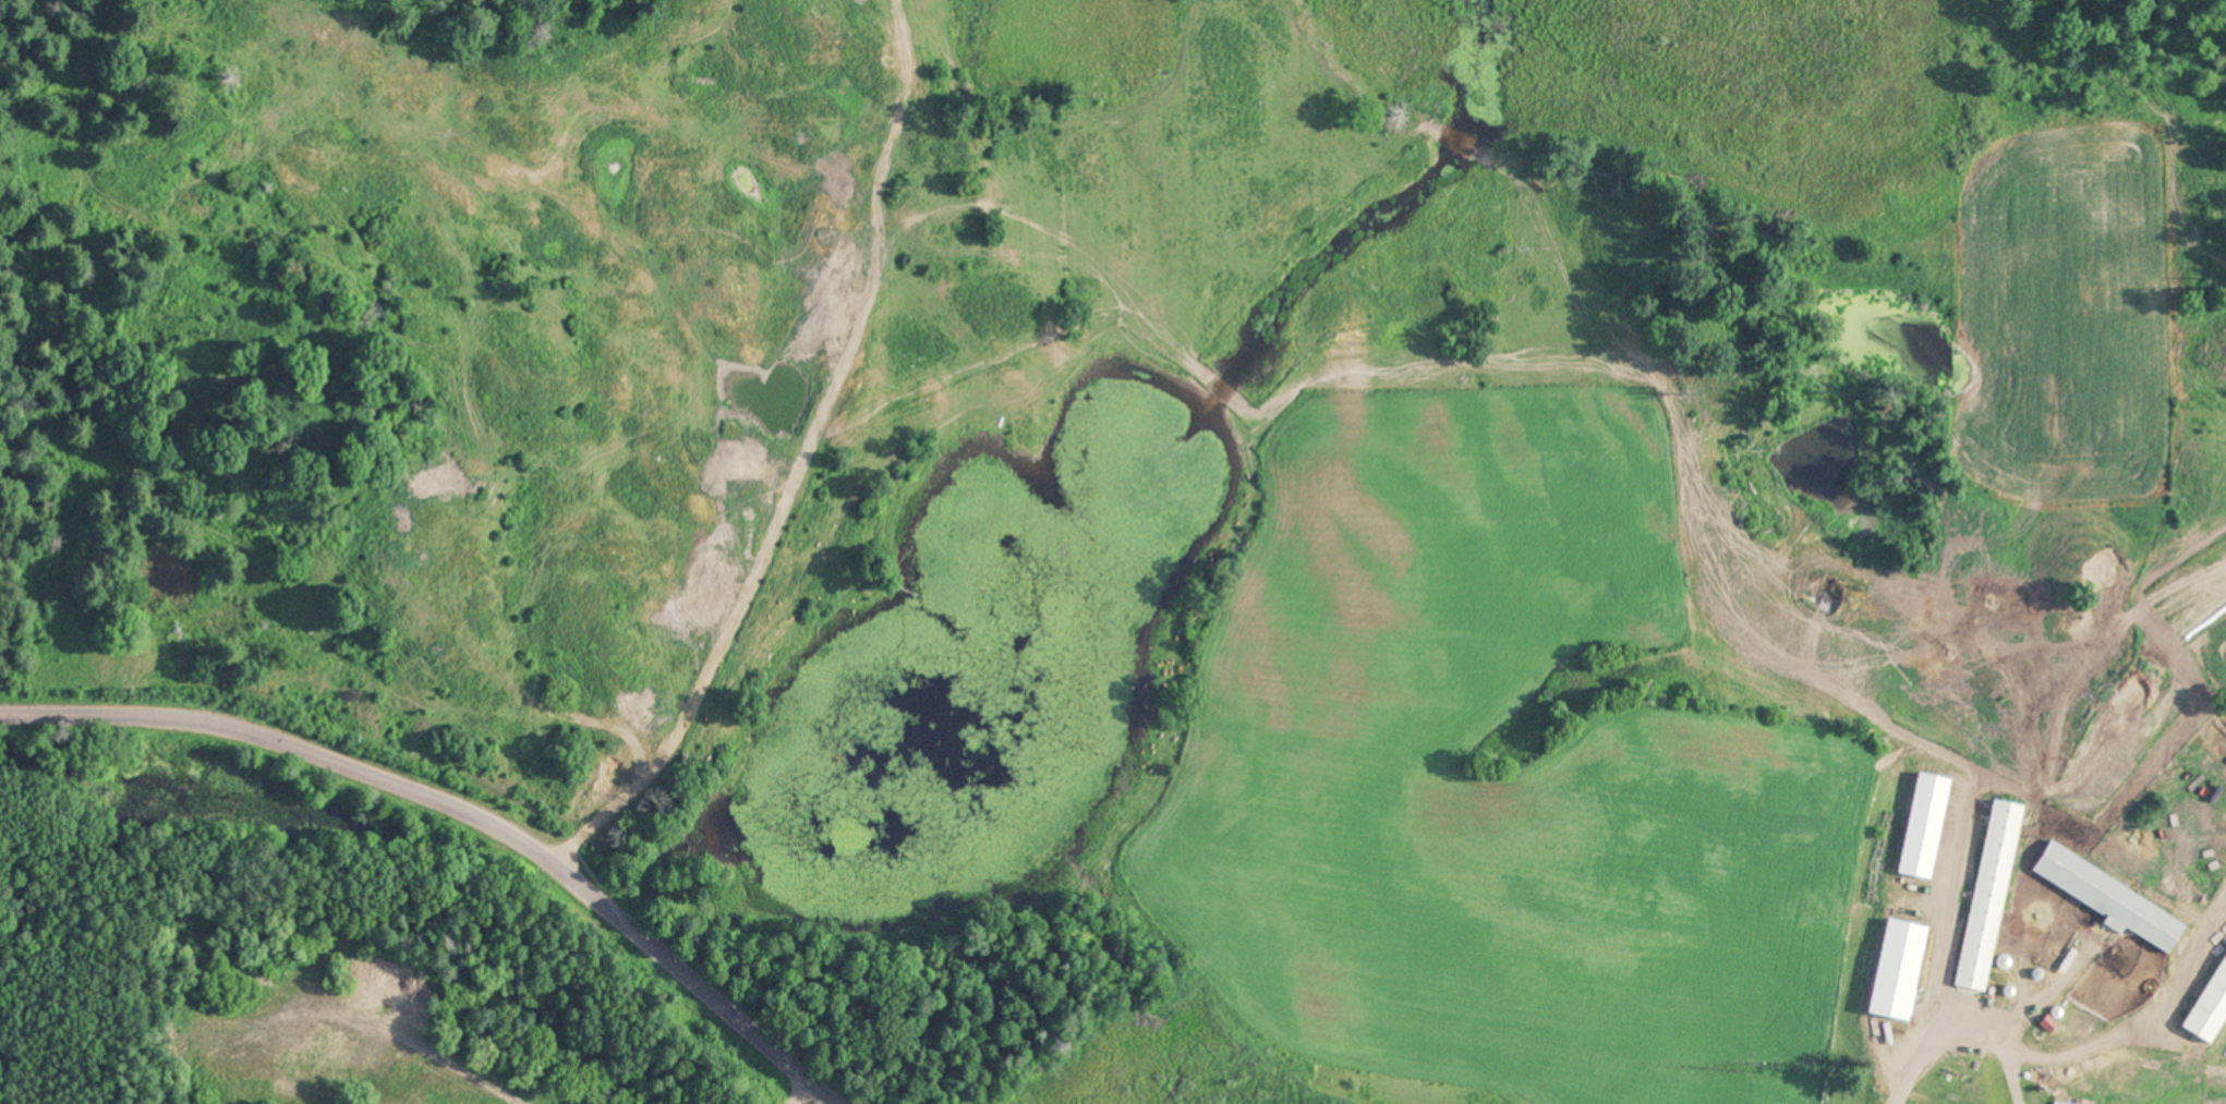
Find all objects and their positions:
road: (482, 802)
building: (1991, 896)
building: (2112, 898)
building: (2211, 1010)

